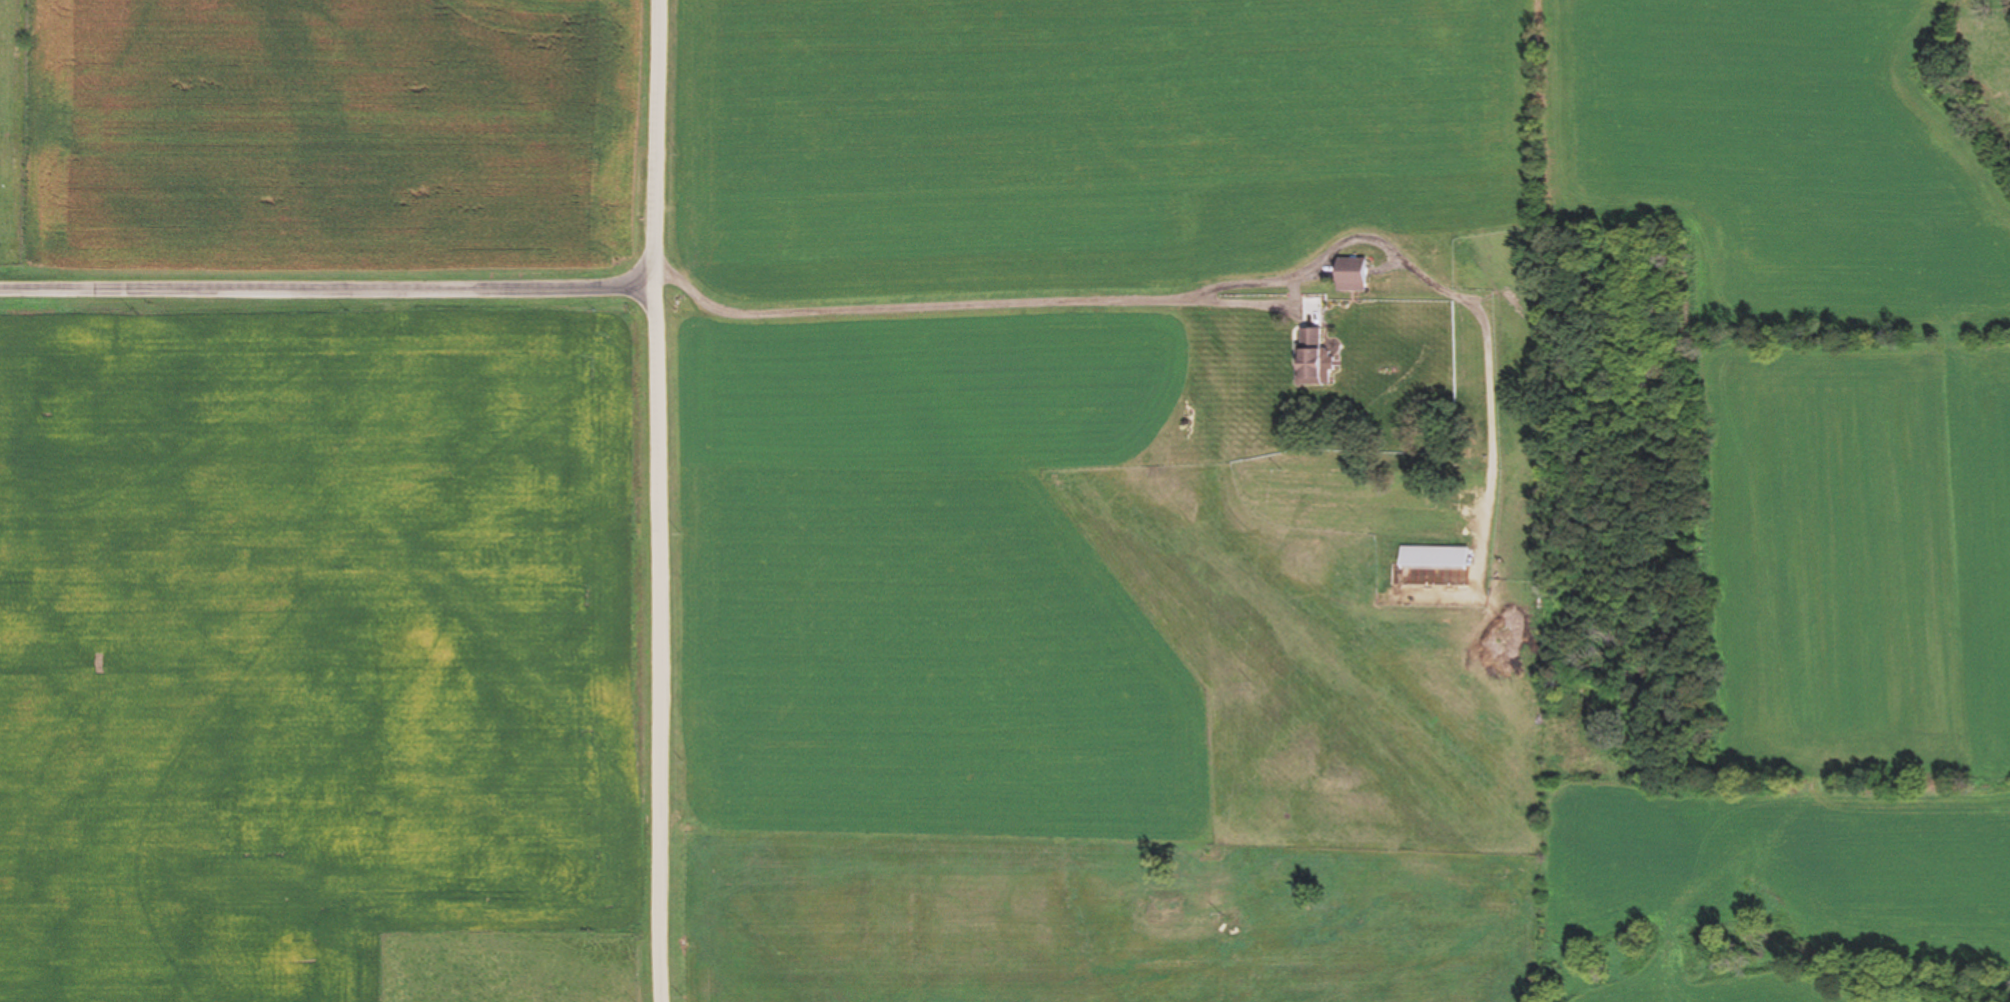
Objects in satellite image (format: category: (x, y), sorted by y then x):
building: (1357, 275)
road: (329, 287)
road: (1178, 300)
building: (1316, 357)
road: (661, 501)
building: (1439, 558)

